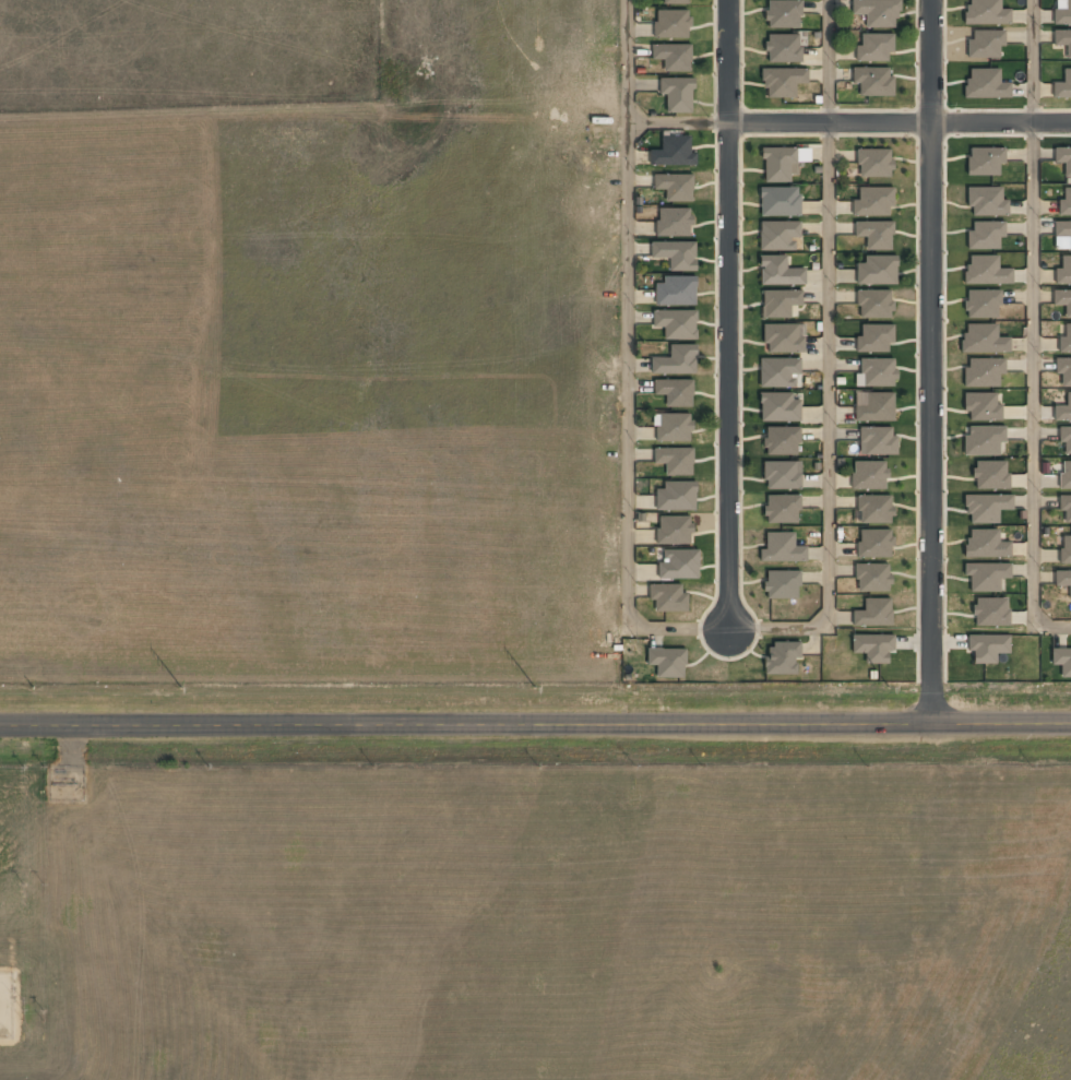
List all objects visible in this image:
building: (675, 1)
building: (877, 12)
building: (985, 12)
building: (1062, 12)
building: (783, 13)
building: (670, 23)
building: (1062, 39)
building: (985, 44)
building: (874, 47)
building: (782, 48)
building: (673, 57)
road: (829, 60)
road: (1034, 60)
building: (782, 82)
building: (872, 82)
building: (984, 84)
building: (1063, 85)
building: (676, 94)
road: (899, 121)
building: (673, 152)
building: (1063, 159)
building: (985, 162)
building: (873, 163)
building: (778, 164)
building: (674, 186)
building: (872, 201)
building: (986, 201)
building: (780, 202)
building: (1064, 203)
building: (673, 222)
building: (1062, 230)
building: (777, 235)
building: (874, 235)
building: (985, 236)
building: (675, 254)
building: (876, 271)
building: (985, 271)
building: (1063, 271)
building: (778, 272)
building: (674, 292)
building: (1062, 300)
building: (778, 304)
building: (873, 304)
building: (980, 304)
road: (727, 314)
building: (676, 324)
building: (783, 339)
building: (874, 339)
building: (984, 339)
building: (1066, 341)
road: (626, 360)
building: (675, 360)
road: (932, 363)
building: (1063, 370)
building: (777, 371)
building: (984, 371)
building: (877, 372)
road: (1033, 388)
building: (674, 391)
building: (874, 406)
building: (981, 406)
building: (778, 407)
building: (1063, 410)
road: (829, 417)
building: (671, 427)
building: (1064, 438)
building: (782, 440)
building: (984, 440)
building: (879, 441)
building: (675, 460)
building: (780, 475)
building: (867, 475)
building: (991, 475)
building: (1066, 475)
building: (675, 496)
building: (873, 507)
building: (987, 507)
building: (781, 509)
building: (1070, 510)
building: (674, 531)
building: (873, 544)
building: (986, 544)
building: (781, 548)
building: (1064, 550)
building: (678, 563)
building: (872, 577)
building: (986, 578)
building: (1062, 580)
building: (781, 584)
building: (667, 597)
building: (873, 612)
building: (989, 612)
building: (872, 648)
building: (985, 648)
building: (781, 658)
building: (667, 661)
building: (1062, 661)
power tower: (180, 686)
power tower: (888, 686)
power tower: (33, 687)
power tower: (535, 687)
road: (535, 726)
power substation: (7, 1006)

